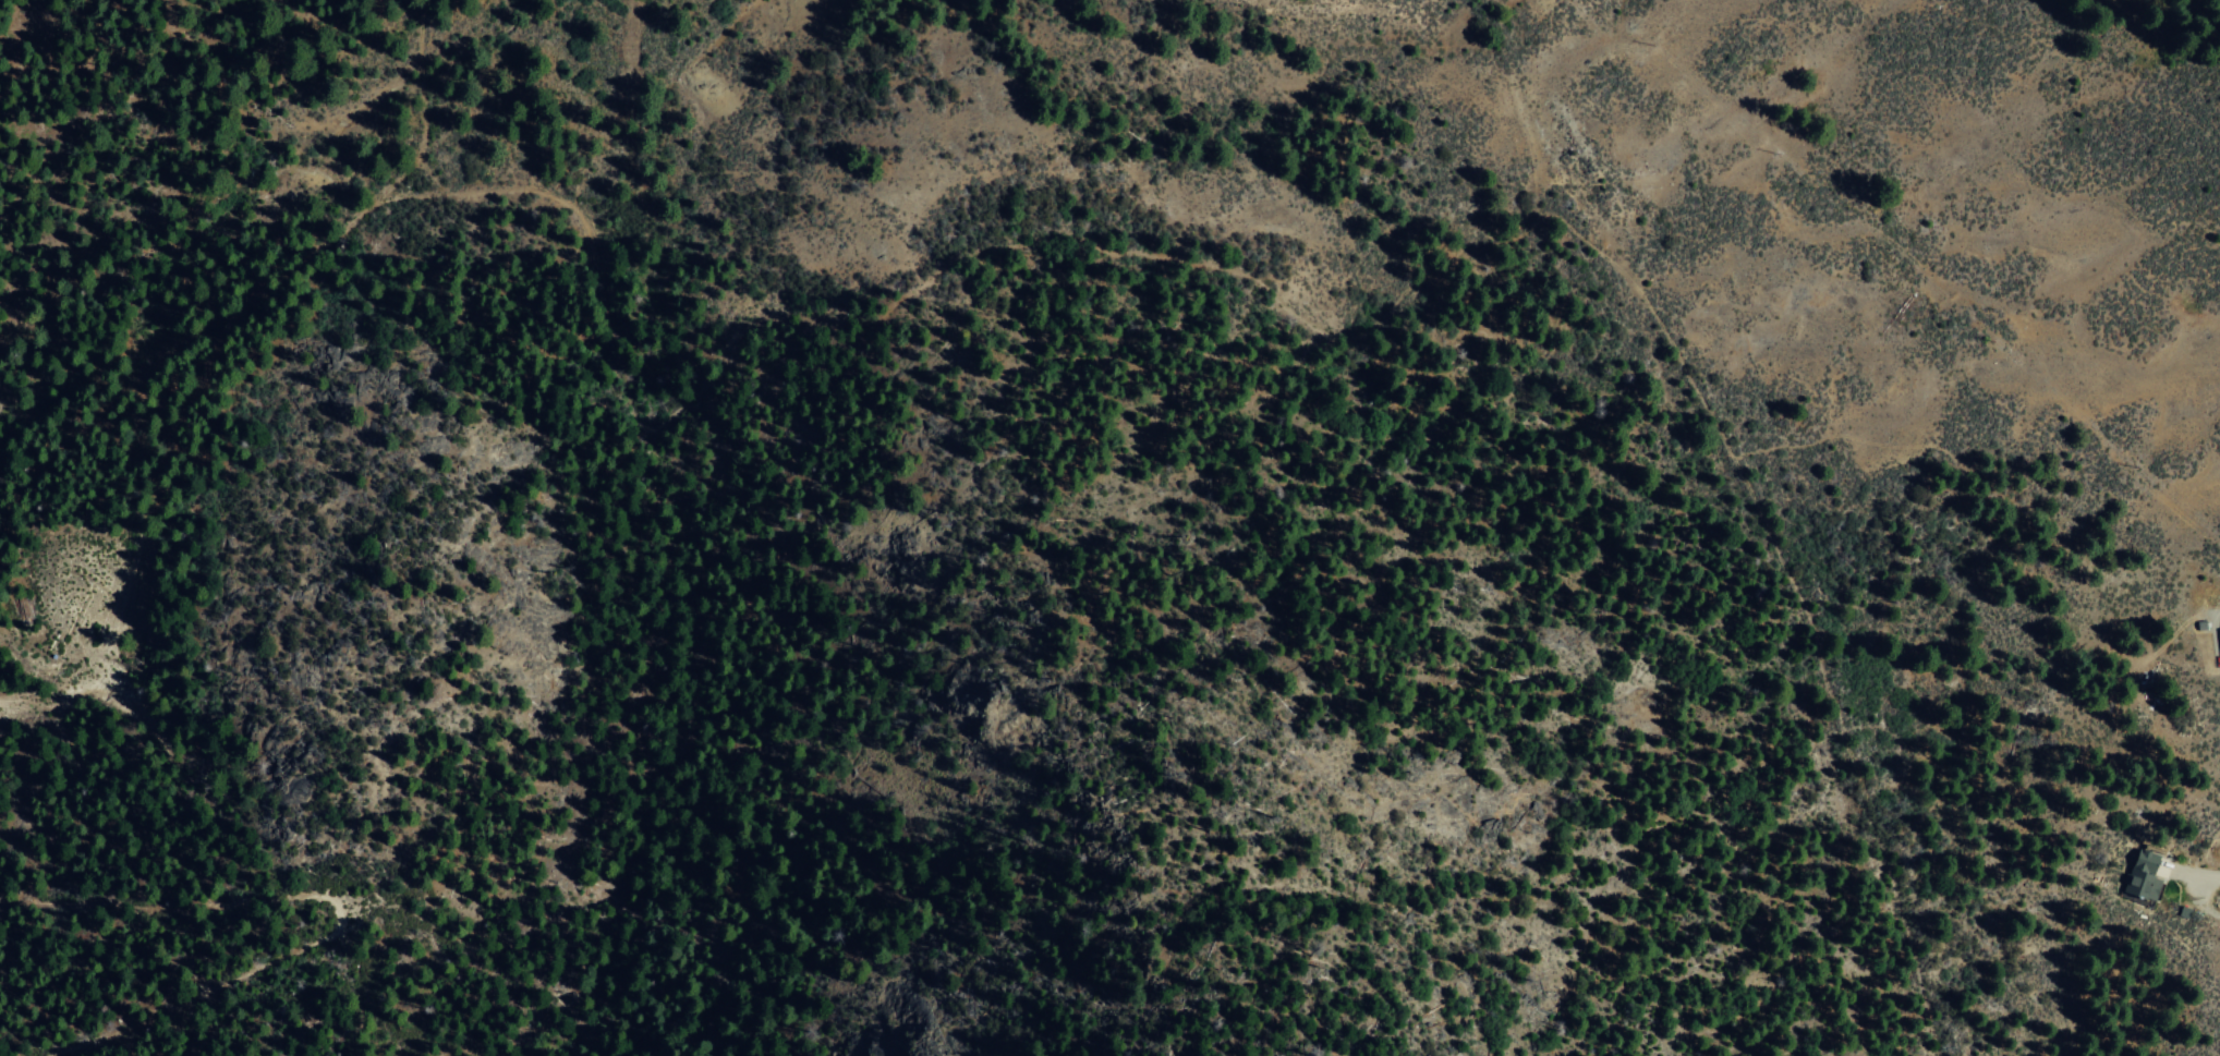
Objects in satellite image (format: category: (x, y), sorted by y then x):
crop: (2128, 97)
building: (2219, 641)
building: (2142, 874)

